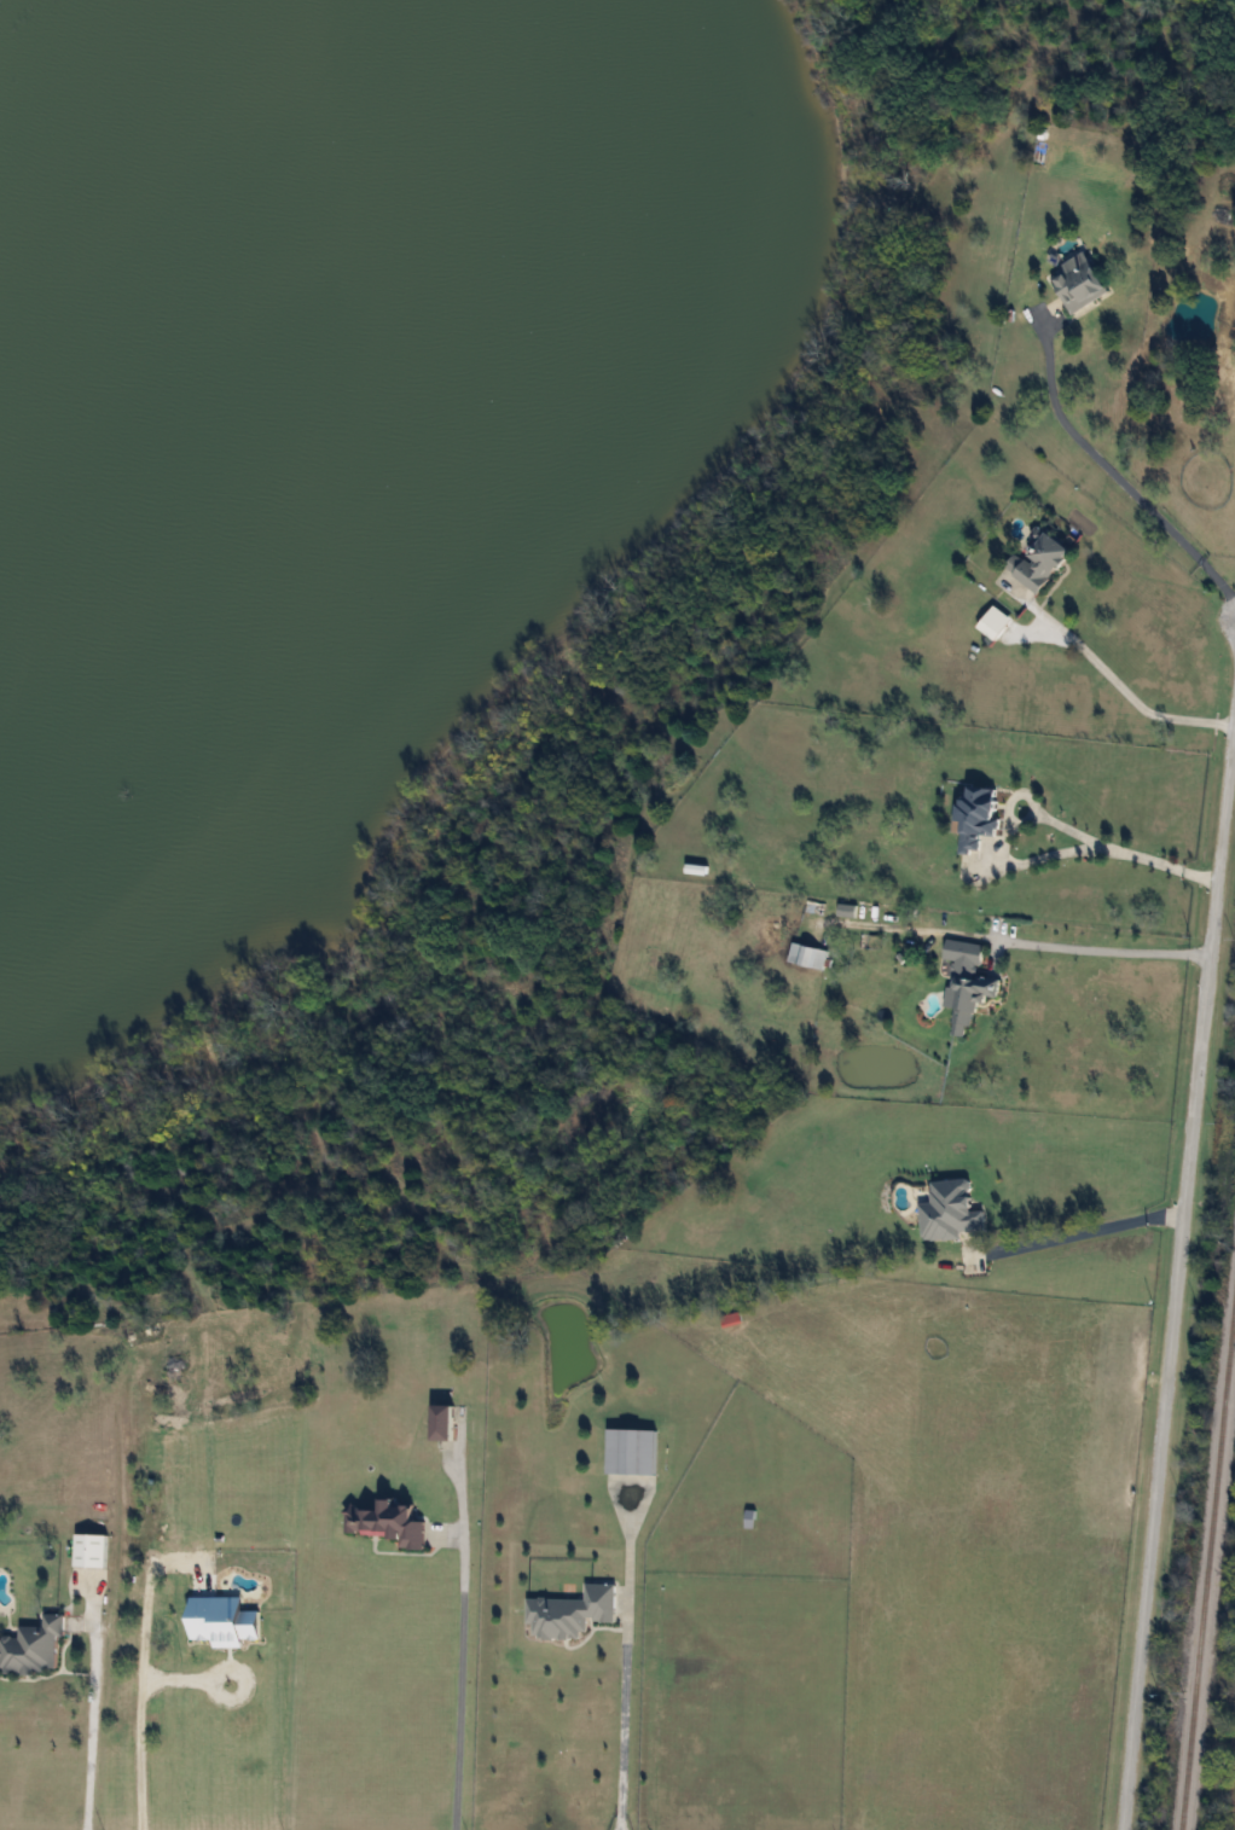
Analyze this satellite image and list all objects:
building: (1079, 281)
road: (1114, 471)
building: (1040, 559)
road: (1127, 691)
building: (979, 817)
road: (1050, 818)
road: (1107, 951)
building: (964, 952)
building: (807, 955)
building: (968, 999)
building: (950, 1210)
road: (1075, 1232)
road: (1176, 1282)
building: (445, 1423)
building: (632, 1451)
building: (389, 1522)
building: (91, 1550)
railway: (1206, 1559)
building: (572, 1611)
road: (453, 1640)
building: (33, 1646)
road: (619, 1661)
road: (135, 1662)
road: (87, 1704)

